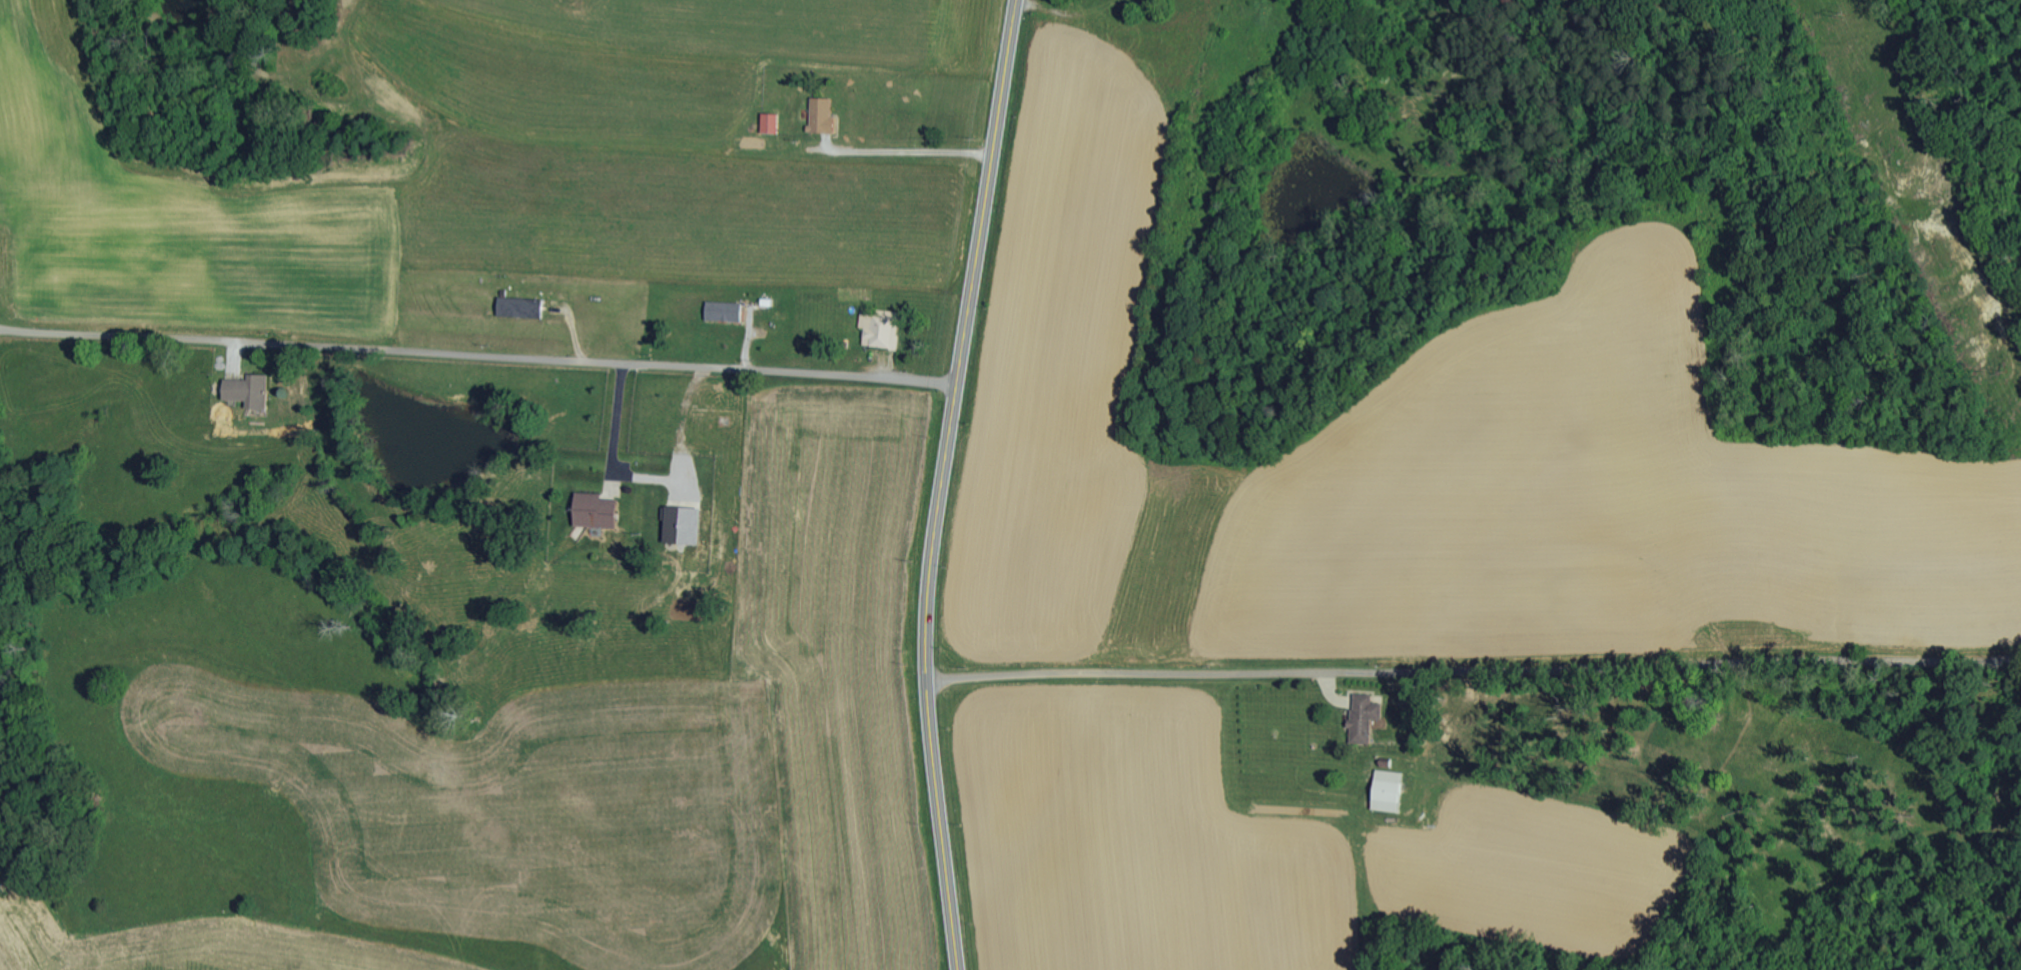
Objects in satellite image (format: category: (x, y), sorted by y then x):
building: (820, 115)
building: (768, 124)
building: (517, 308)
building: (721, 312)
building: (878, 330)
road: (478, 356)
building: (245, 391)
road: (943, 483)
building: (592, 511)
building: (680, 526)
road: (1474, 674)
building: (1363, 718)
building: (1386, 790)

